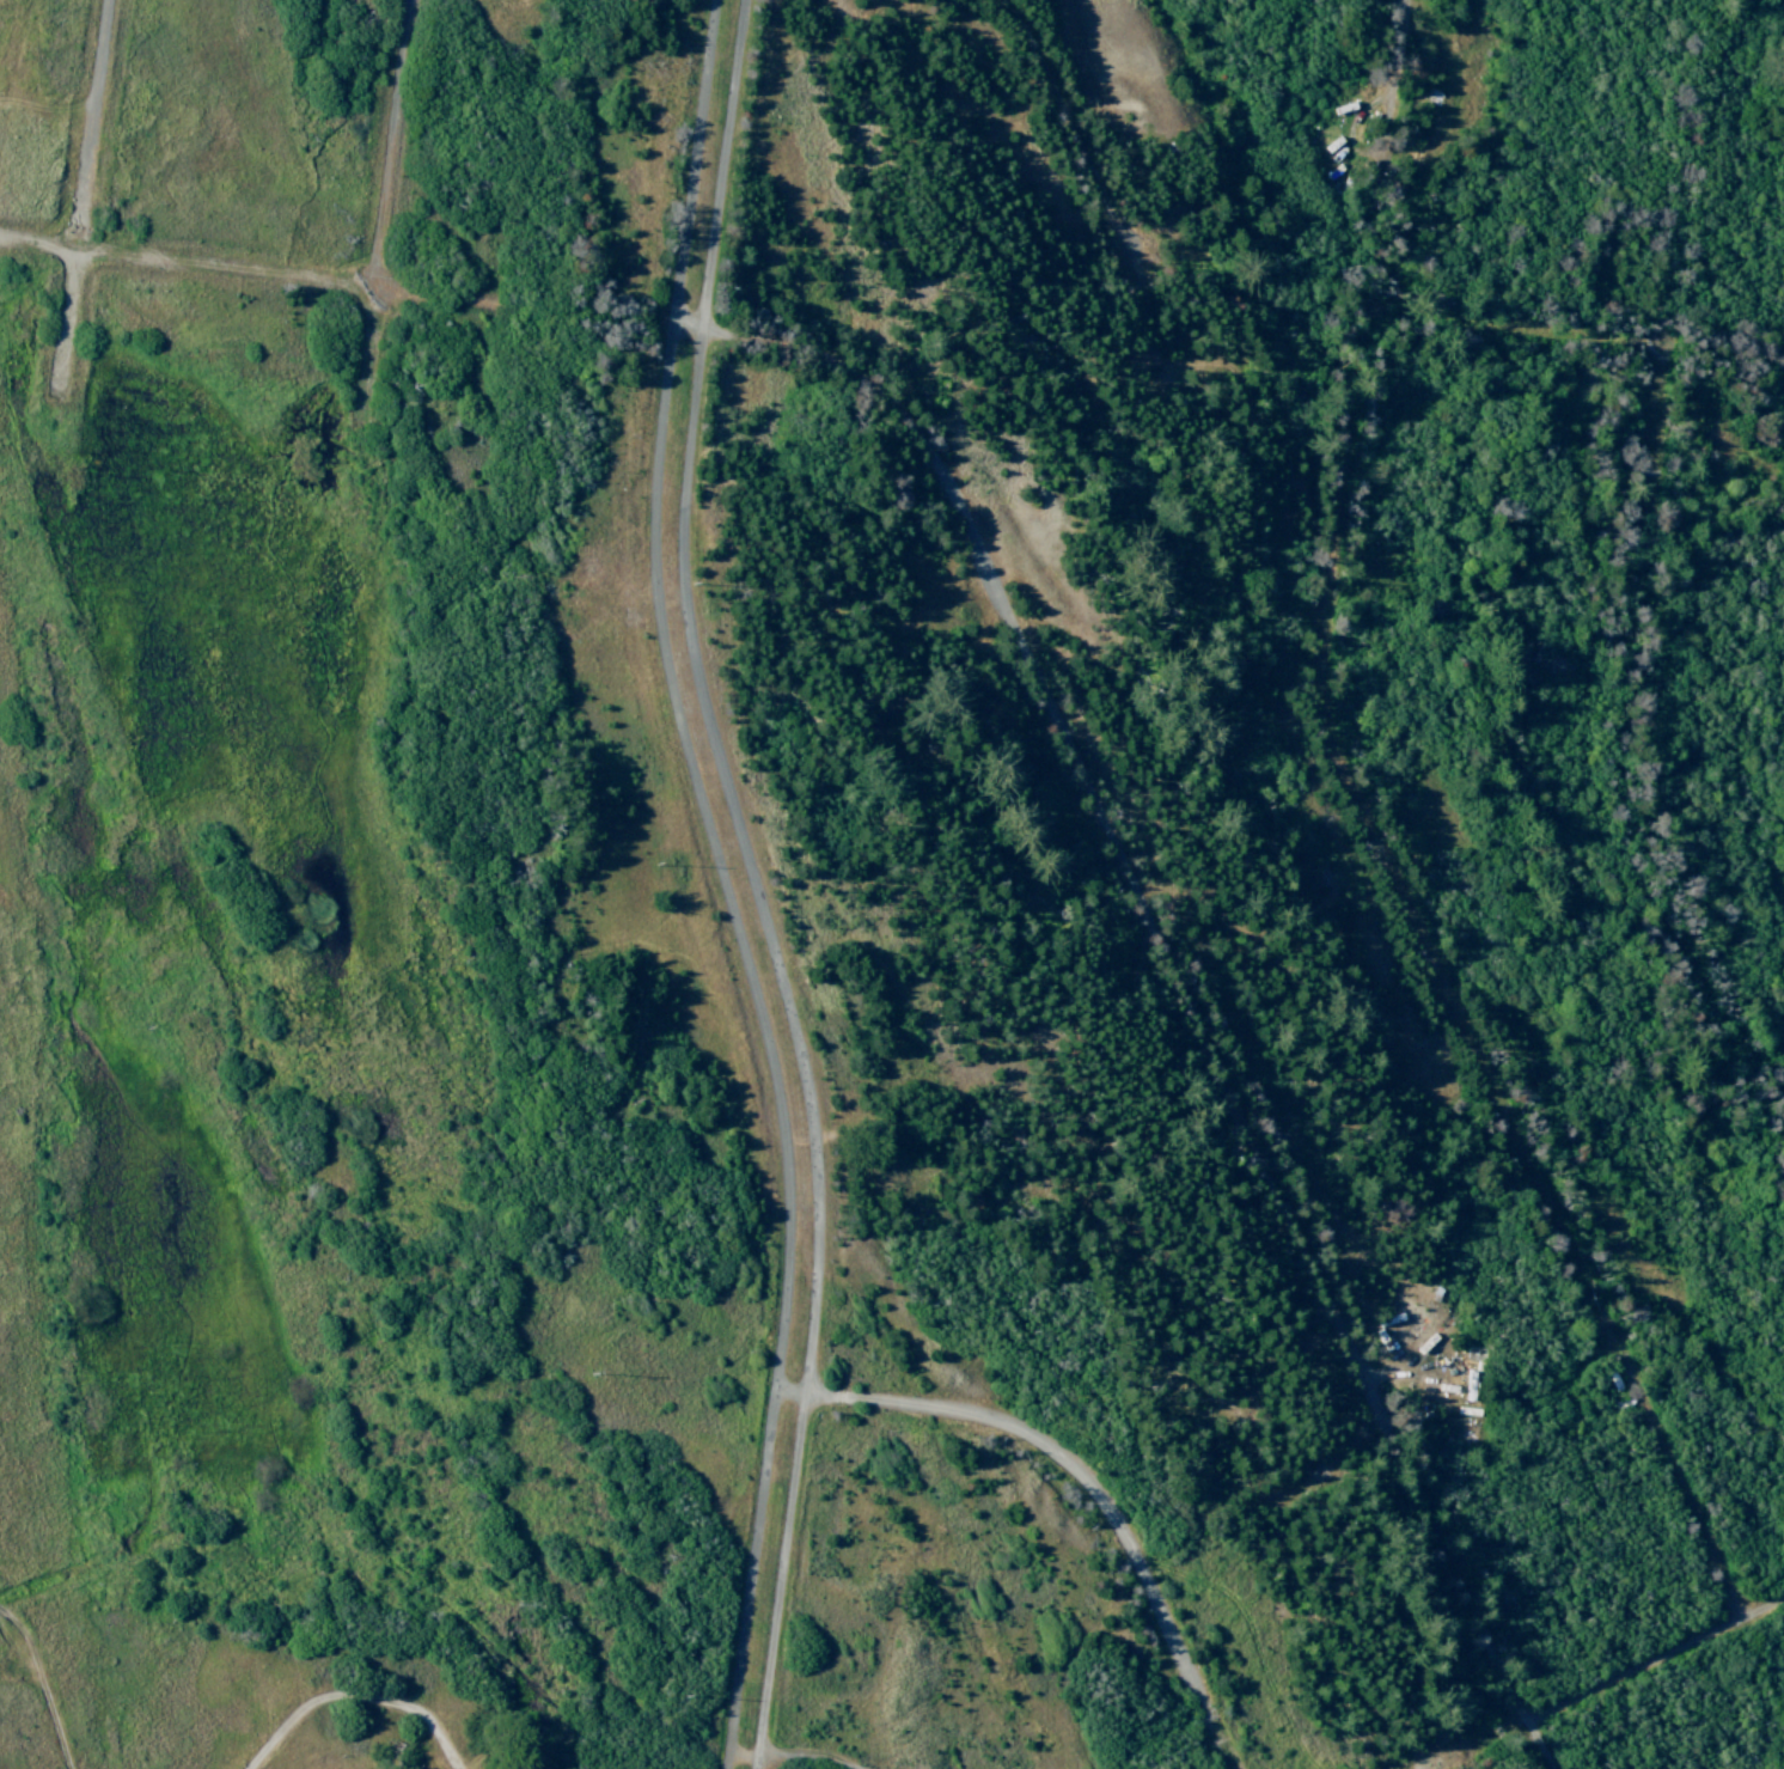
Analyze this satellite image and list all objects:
road: (1074, 132)
road: (393, 145)
road: (86, 199)
road: (1576, 336)
road: (368, 350)
road: (1635, 585)
road: (1032, 666)
road: (758, 883)
road: (1397, 883)
road: (728, 884)
road: (1086, 1480)
road: (1611, 1686)
road: (350, 1696)
road: (770, 1762)

